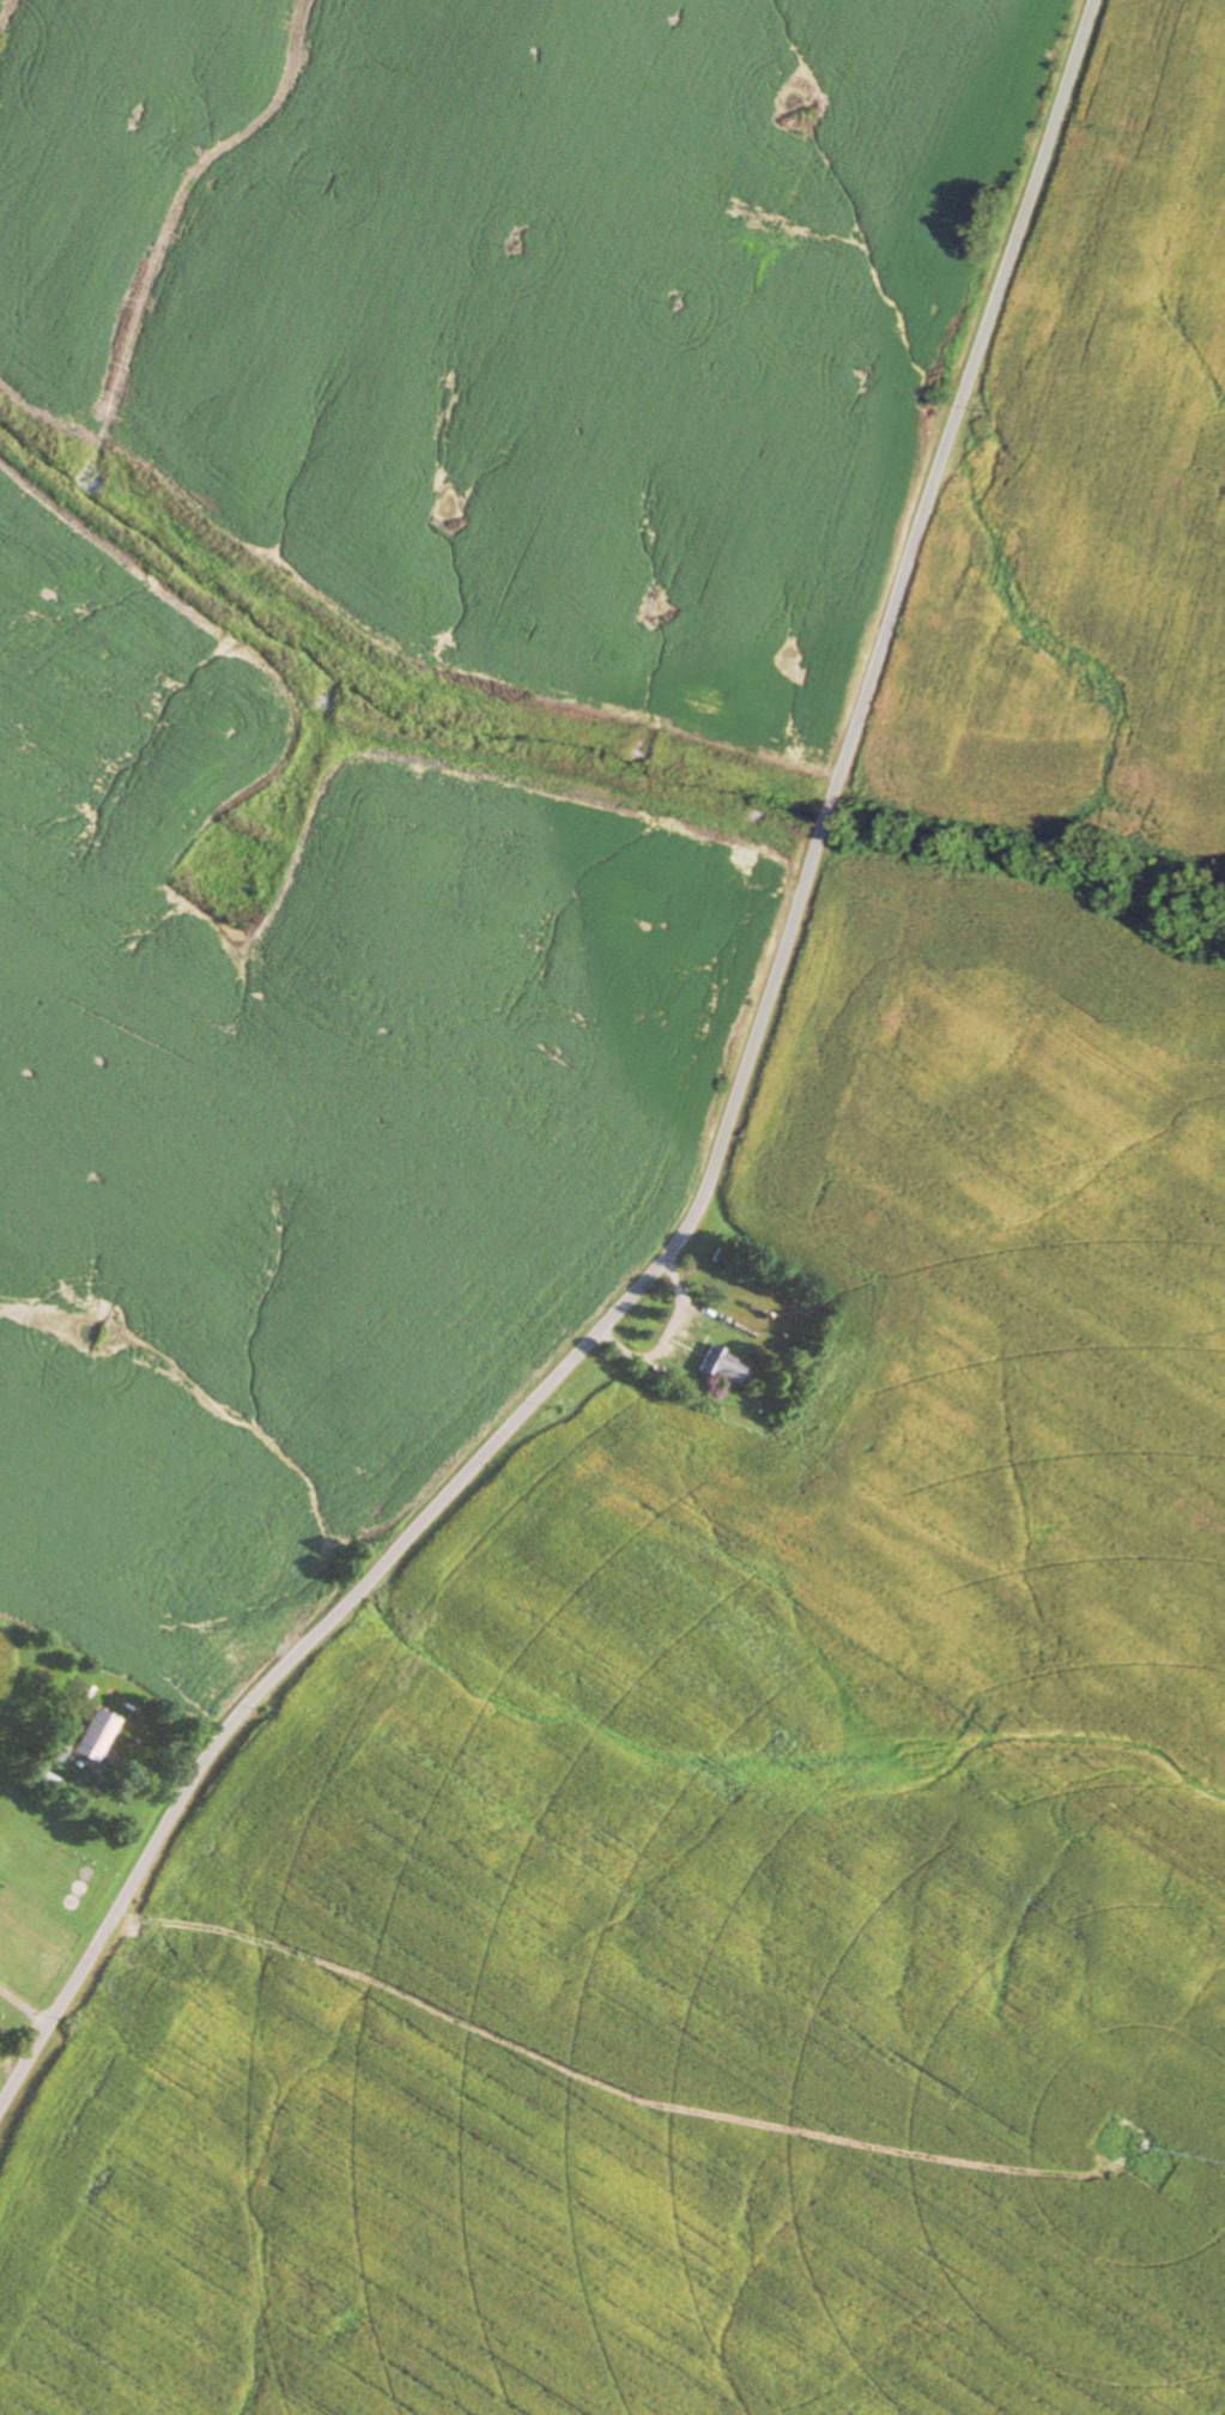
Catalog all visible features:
road: (721, 1152)
building: (722, 1366)
building: (93, 1737)
building: (55, 1750)

